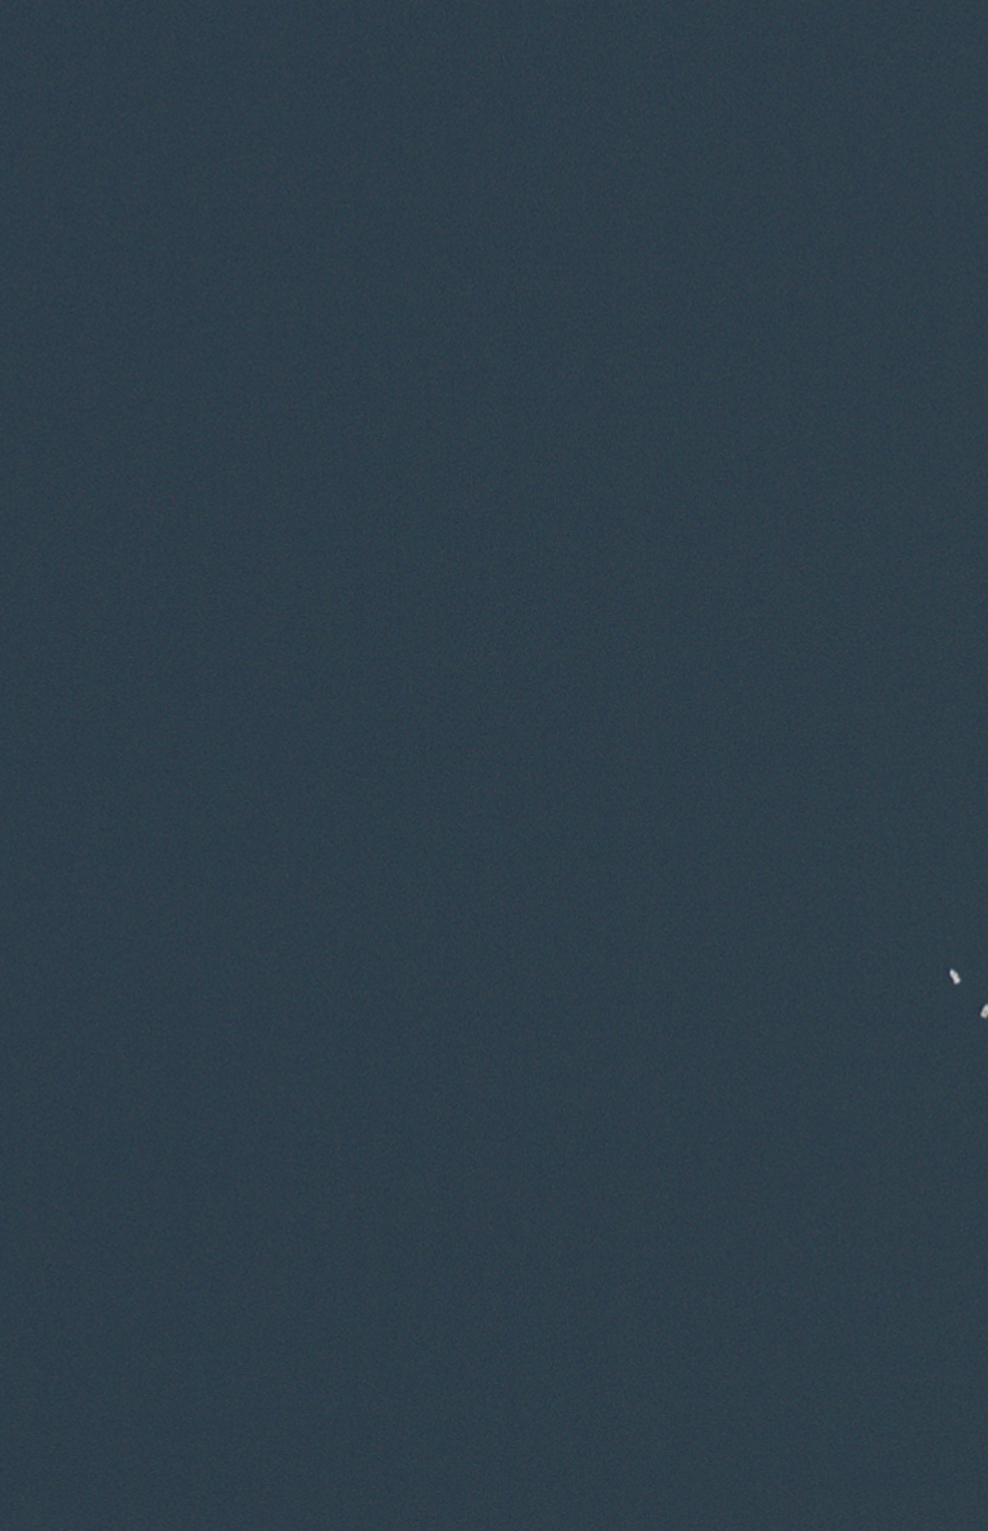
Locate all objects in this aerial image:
river: (557, 1275)

